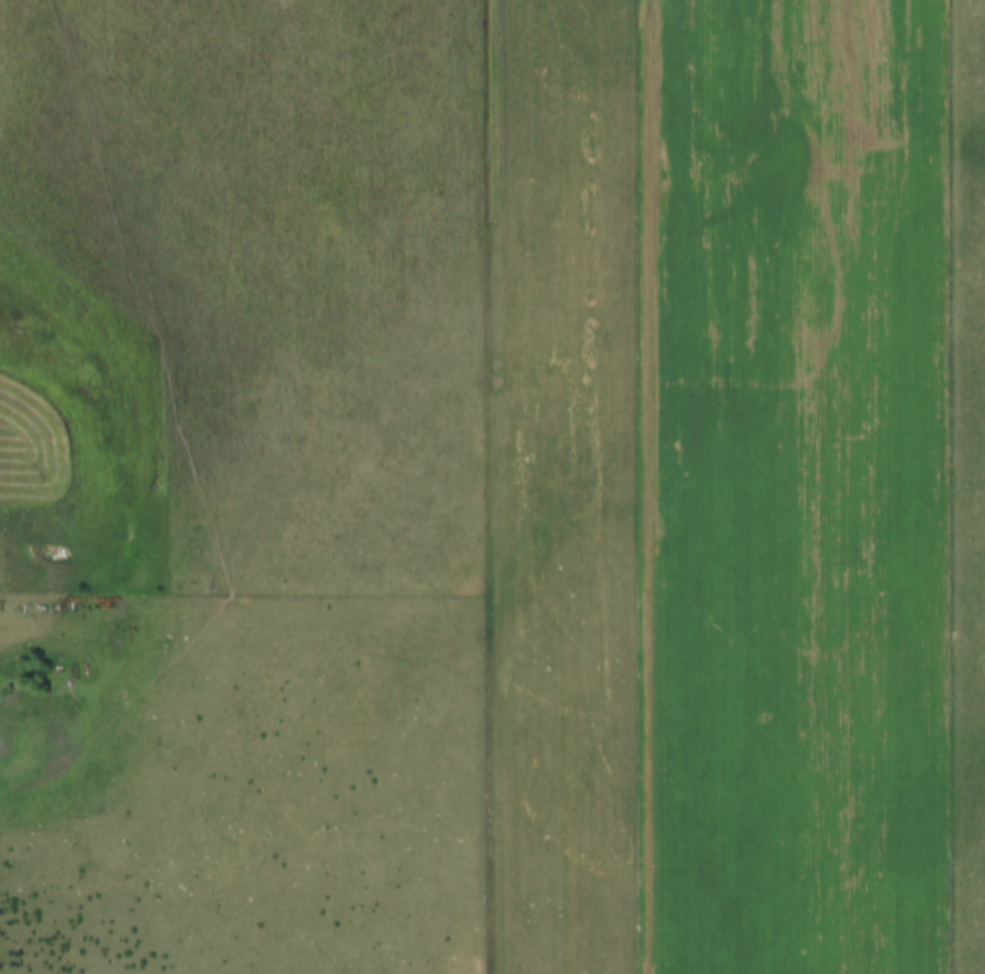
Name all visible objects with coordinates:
road: (640, 486)

